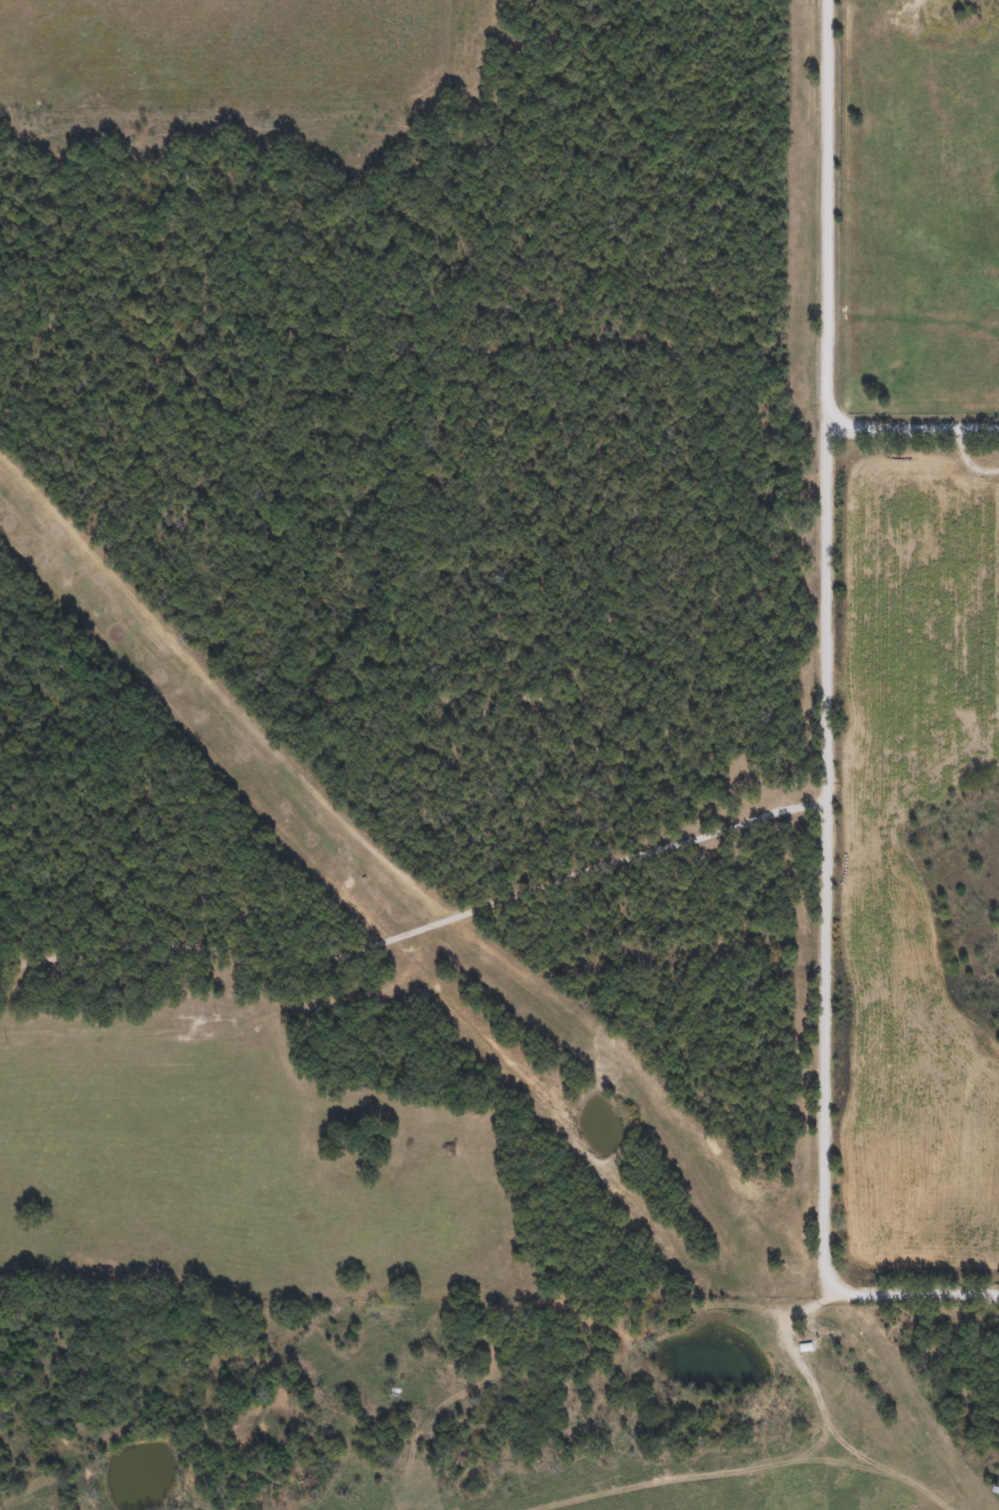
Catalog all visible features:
road: (912, 425)
road: (817, 727)
road: (417, 935)
road: (657, 1334)

